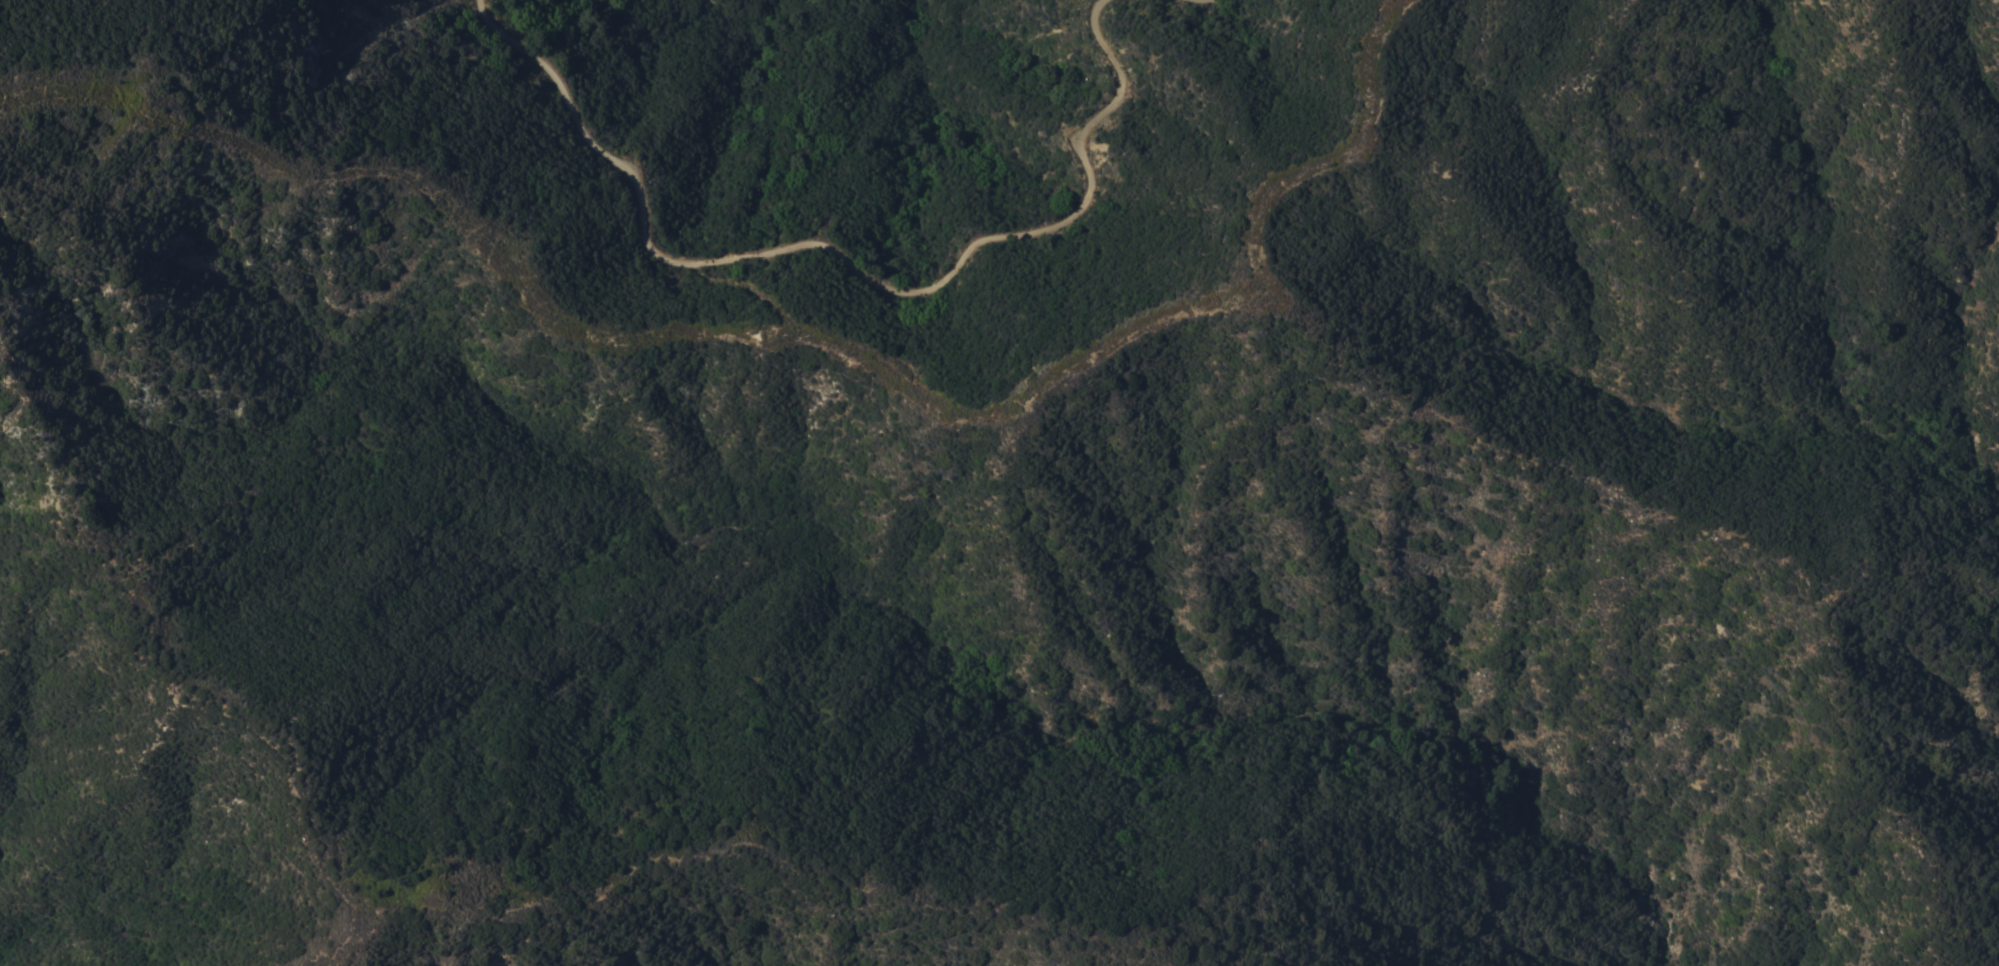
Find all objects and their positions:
road: (836, 257)
road: (752, 293)

